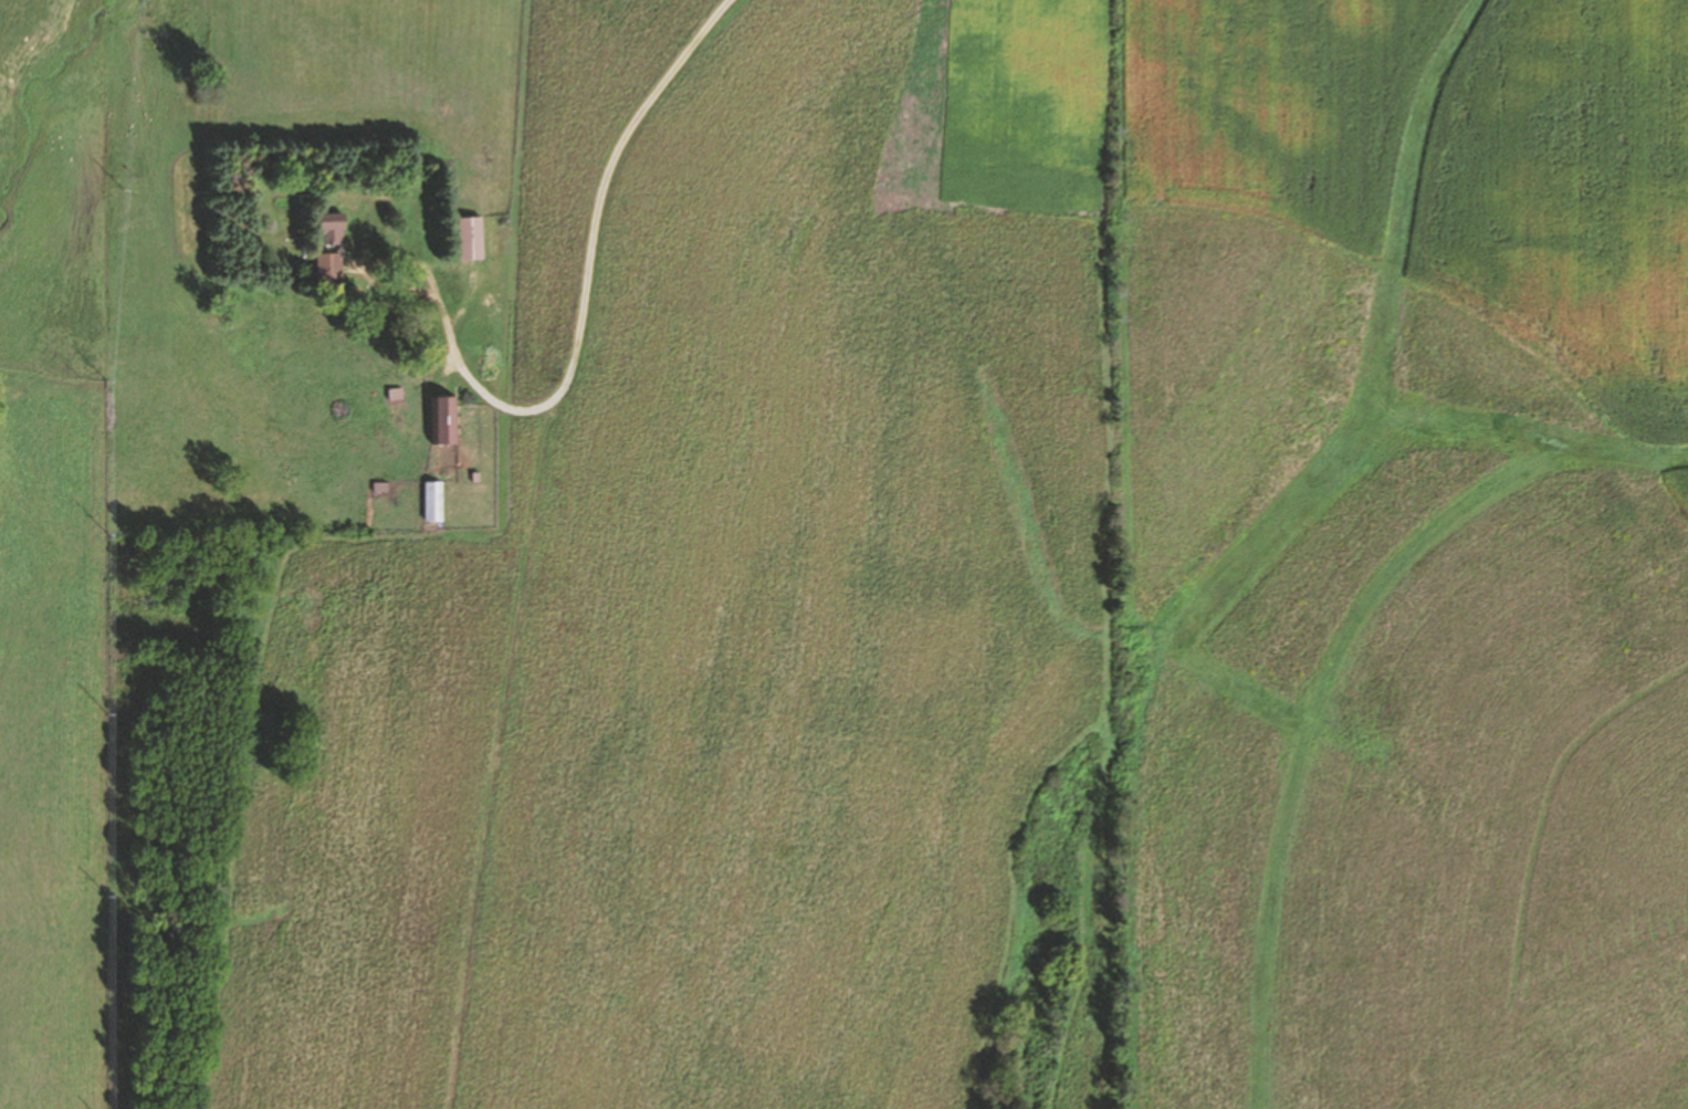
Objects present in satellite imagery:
building: (332, 230)
building: (470, 239)
building: (328, 269)
road: (575, 323)
building: (445, 421)
building: (433, 501)

